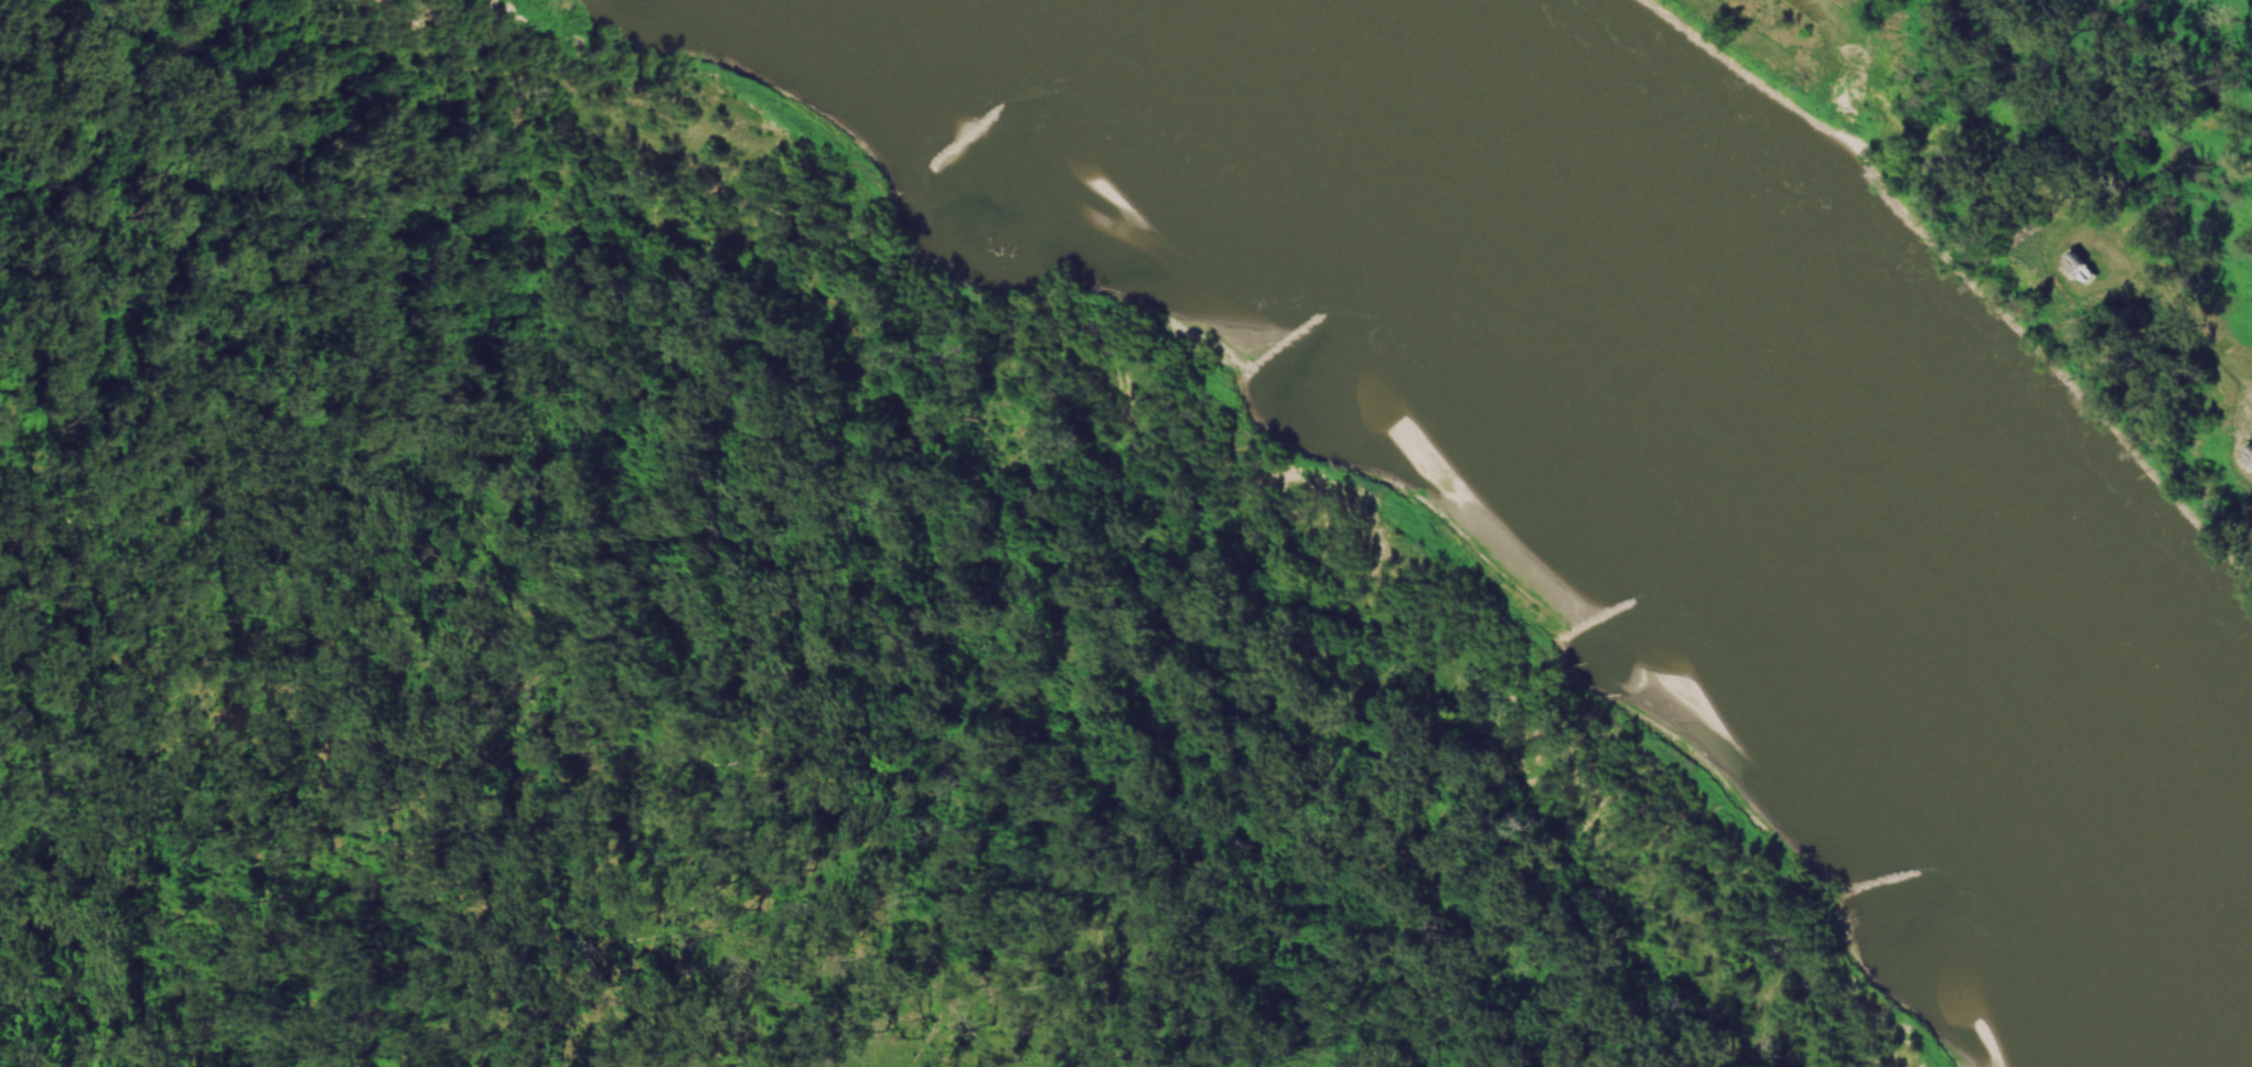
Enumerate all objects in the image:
road: (1844, 32)
river: (1760, 463)

